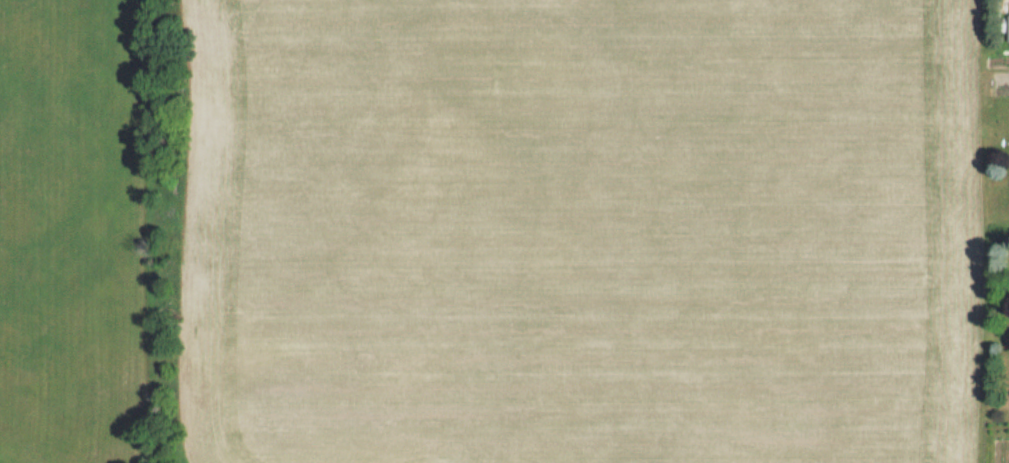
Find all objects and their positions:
building: (1008, 26)

